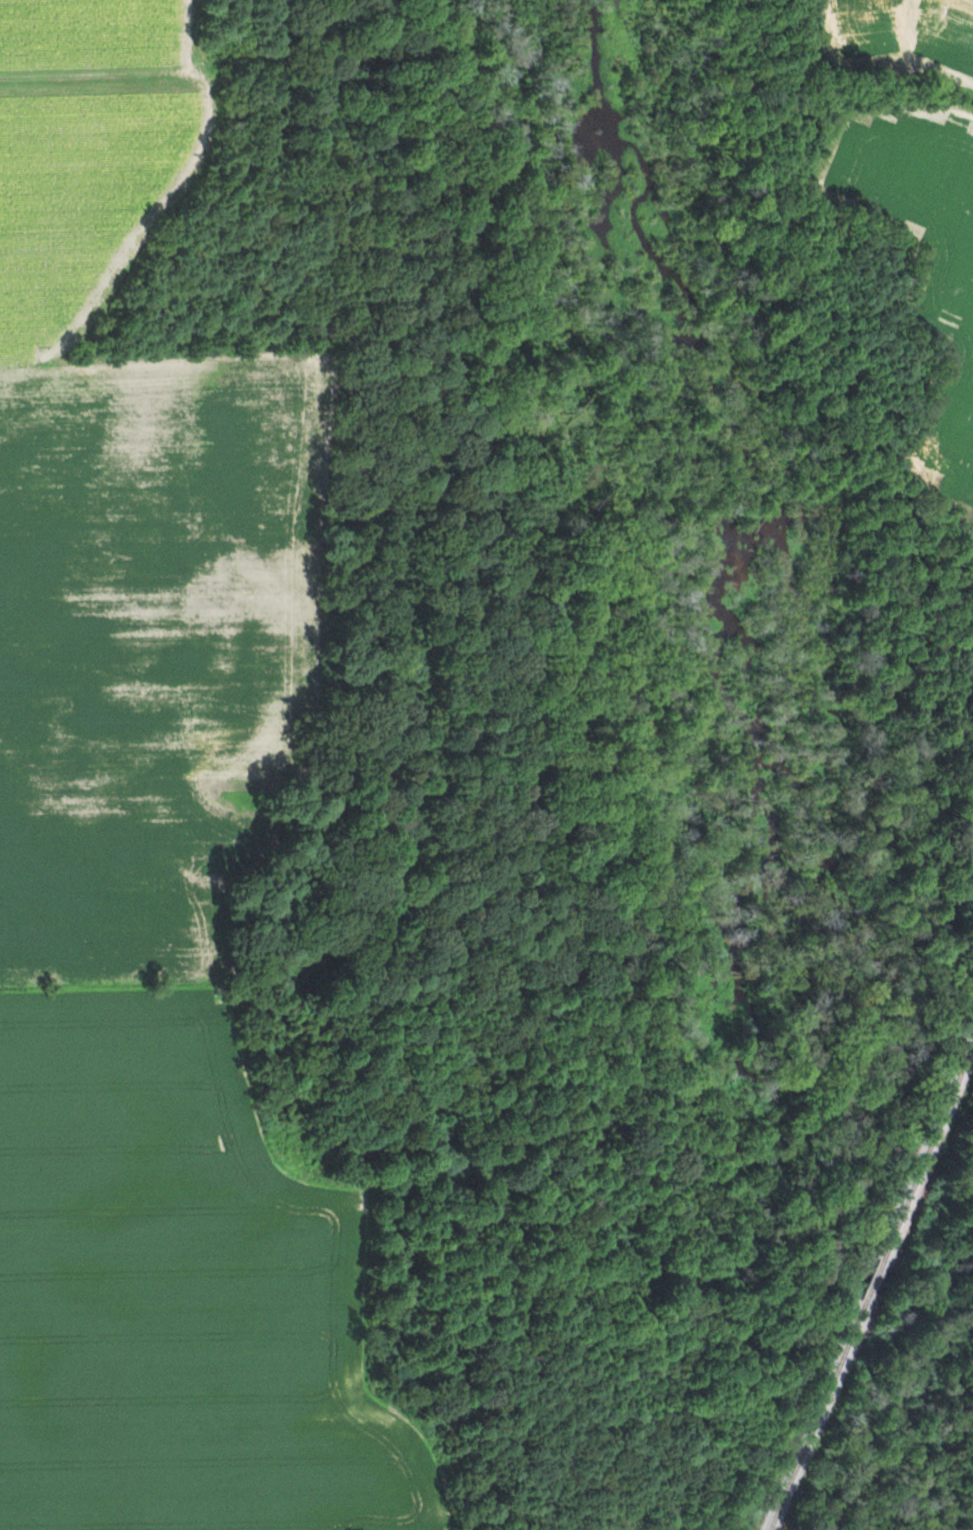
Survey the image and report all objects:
railway: (928, 1148)
railway: (874, 1279)
railway: (817, 1415)

